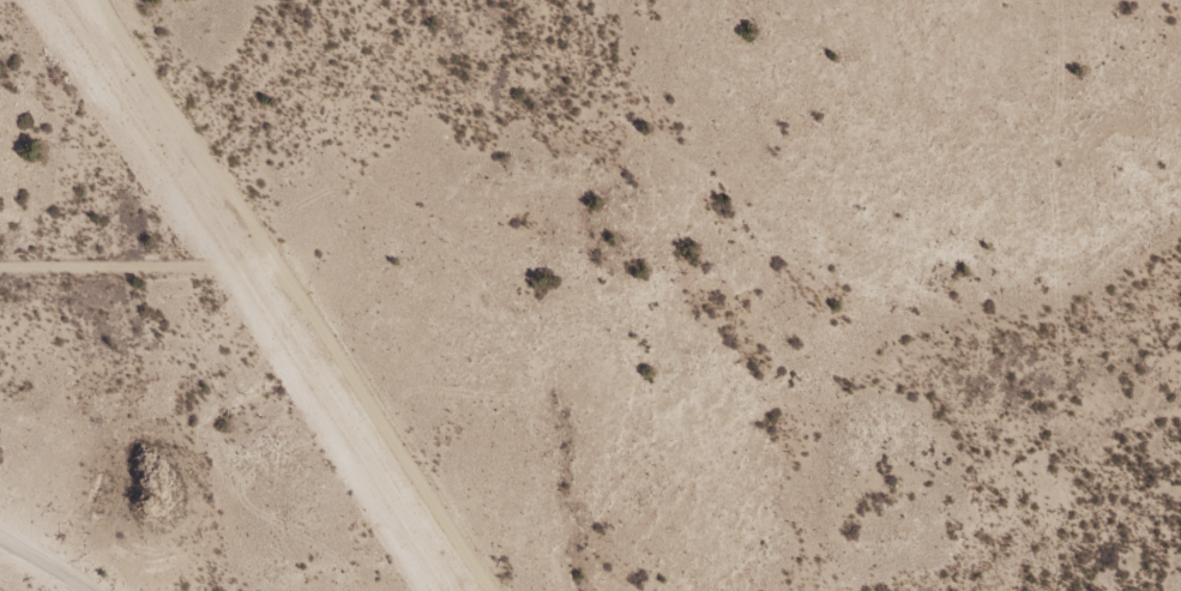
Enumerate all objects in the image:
road: (331, 304)

